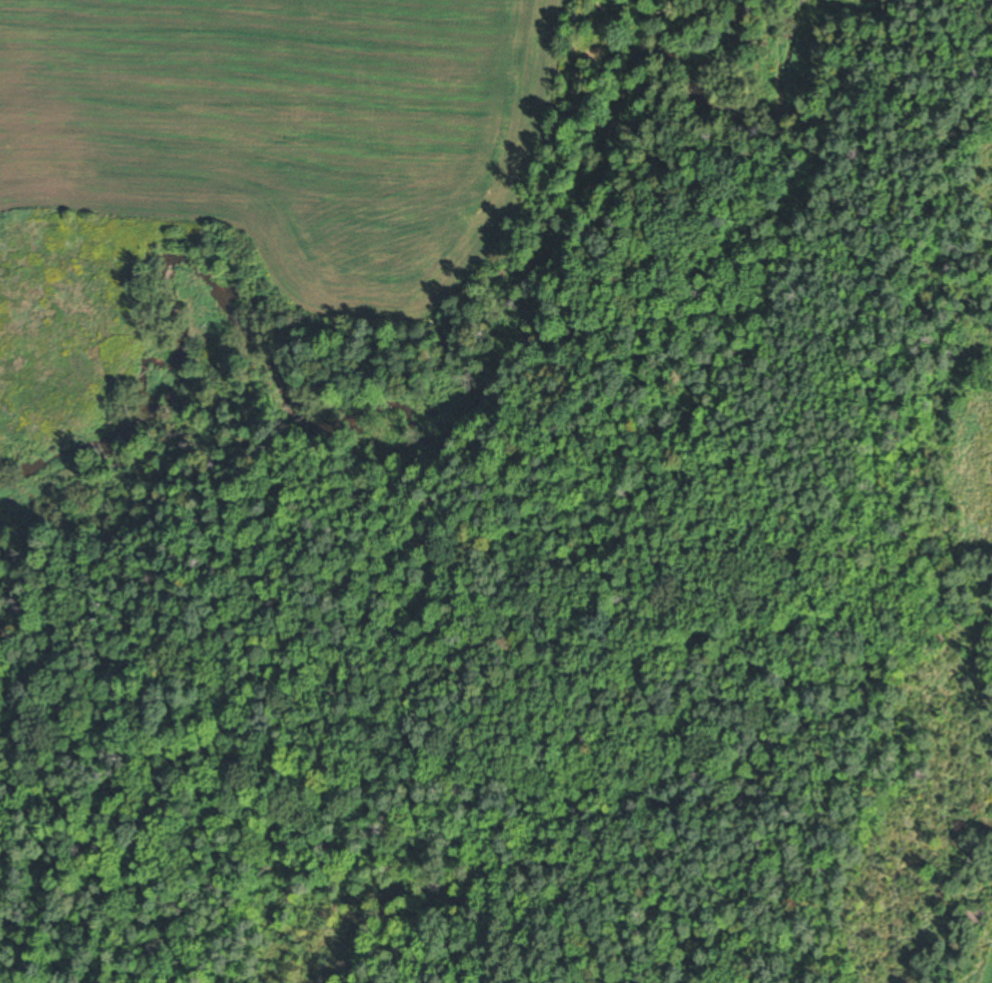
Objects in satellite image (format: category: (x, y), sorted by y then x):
building: (599, 4)

